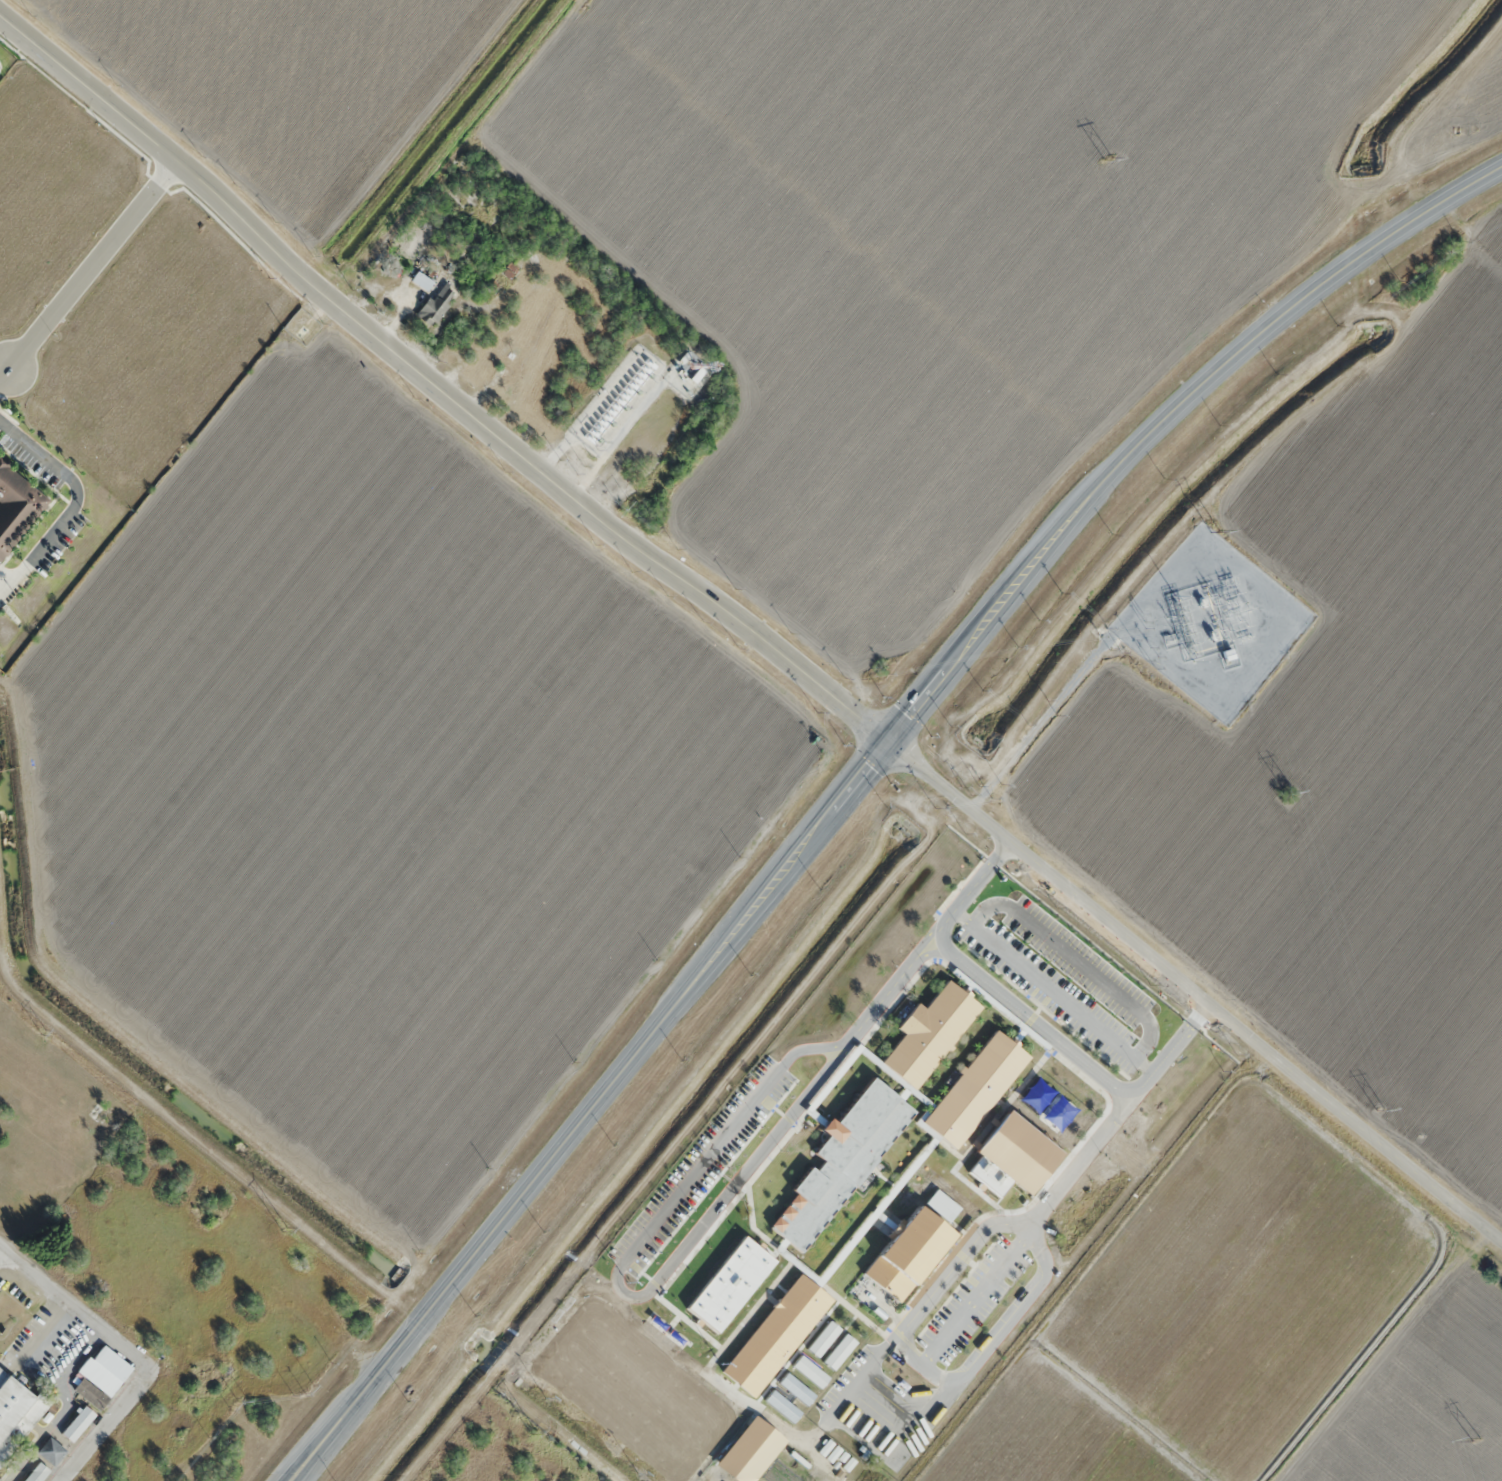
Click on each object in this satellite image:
crop: (283, 84)
power tower: (1108, 158)
building: (422, 280)
road: (1324, 286)
building: (509, 371)
road: (434, 392)
building: (16, 507)
power tower: (1215, 530)
power substation: (1212, 622)
traffic signals: (891, 740)
crop: (1341, 743)
power tower: (1290, 790)
road: (722, 948)
road: (891, 988)
road: (1053, 990)
road: (1196, 990)
building: (851, 1011)
road: (1031, 1019)
building: (866, 1023)
power tower: (44, 1031)
building: (929, 1032)
building: (836, 1046)
road: (810, 1047)
building: (974, 1087)
road: (745, 1109)
power tower: (1381, 1109)
road: (774, 1134)
road: (1085, 1155)
building: (841, 1160)
power tower: (284, 1229)
building: (907, 1251)
road: (956, 1261)
building: (752, 1267)
road: (621, 1270)
building: (738, 1285)
road: (980, 1291)
building: (775, 1333)
road: (994, 1335)
road: (125, 1352)
building: (100, 1376)
road: (857, 1382)
road: (729, 1390)
building: (17, 1405)
building: (75, 1426)
power tower: (533, 1431)
road: (789, 1432)
power tower: (1476, 1440)
building: (750, 1450)
building: (51, 1451)
building: (36, 1474)

